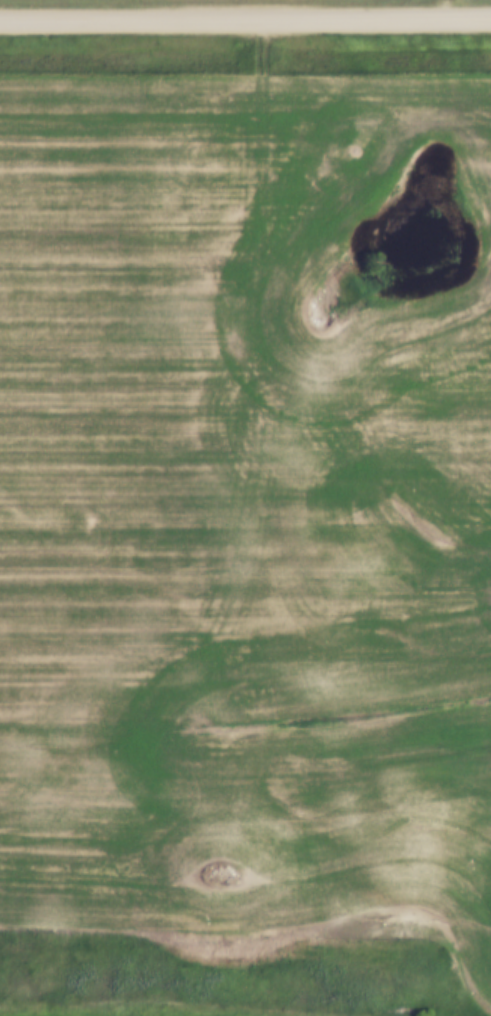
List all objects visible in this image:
road: (245, 21)

